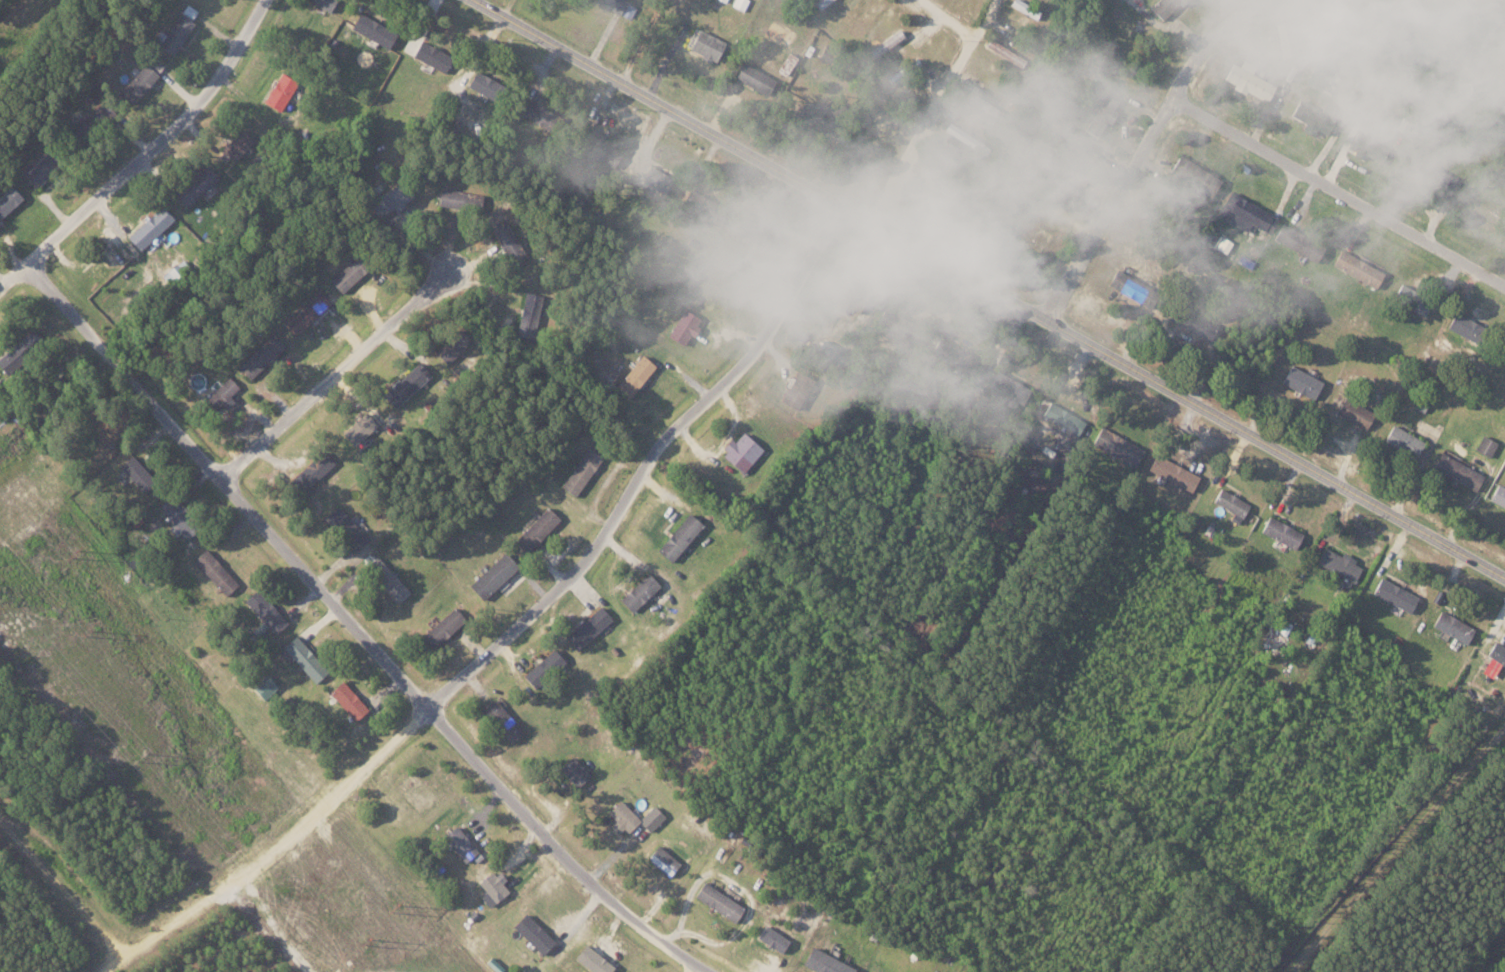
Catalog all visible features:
building: (723, 0)
building: (820, 2)
building: (322, 4)
building: (740, 4)
building: (615, 6)
building: (1166, 7)
building: (1026, 9)
road: (1495, 10)
building: (1433, 11)
road: (953, 17)
building: (1350, 19)
building: (372, 30)
building: (1401, 31)
building: (777, 34)
building: (172, 35)
building: (1286, 40)
building: (883, 45)
building: (705, 46)
building: (1005, 53)
building: (431, 56)
building: (787, 63)
building: (155, 64)
building: (1477, 67)
building: (1316, 77)
building: (754, 78)
building: (1251, 83)
building: (137, 84)
building: (483, 85)
building: (278, 93)
building: (1353, 97)
building: (1437, 97)
building: (1351, 109)
building: (811, 112)
road: (935, 112)
building: (535, 113)
building: (1102, 115)
building: (1314, 117)
building: (1383, 117)
building: (1404, 125)
road: (158, 140)
building: (235, 143)
road: (1144, 148)
building: (1370, 148)
building: (597, 149)
building: (39, 168)
building: (1075, 170)
building: (1434, 175)
building: (1196, 176)
building: (932, 178)
building: (656, 180)
building: (193, 185)
road: (1340, 191)
building: (7, 196)
building: (390, 198)
building: (458, 198)
building: (697, 204)
building: (1249, 211)
building: (1489, 216)
building: (148, 226)
building: (756, 233)
building: (506, 241)
building: (1300, 243)
building: (1361, 269)
building: (348, 273)
road: (15, 277)
road: (988, 288)
building: (1134, 288)
building: (842, 292)
building: (1414, 299)
building: (528, 311)
building: (305, 312)
building: (1193, 323)
building: (683, 326)
building: (900, 326)
building: (1469, 328)
building: (451, 346)
building: (12, 355)
building: (260, 355)
building: (954, 357)
road: (336, 376)
building: (633, 376)
building: (1304, 382)
building: (405, 384)
building: (796, 389)
building: (1009, 390)
building: (222, 392)
building: (1422, 407)
building: (1357, 413)
building: (1064, 418)
building: (358, 428)
building: (1405, 442)
building: (1118, 447)
building: (1487, 447)
building: (740, 450)
road: (648, 466)
building: (580, 470)
building: (310, 471)
building: (135, 472)
building: (1459, 472)
building: (1174, 474)
building: (1504, 474)
road: (229, 486)
building: (1499, 497)
building: (1231, 503)
building: (178, 518)
building: (344, 528)
building: (536, 529)
building: (1281, 531)
building: (678, 537)
power tower: (75, 553)
building: (1338, 564)
building: (213, 571)
building: (492, 575)
building: (386, 578)
building: (638, 591)
building: (1395, 595)
building: (264, 611)
building: (443, 626)
building: (587, 627)
building: (1453, 628)
power tower: (86, 631)
building: (1399, 639)
building: (1274, 640)
building: (1497, 653)
building: (303, 658)
building: (542, 666)
building: (264, 686)
building: (348, 701)
building: (502, 721)
power tower: (140, 759)
building: (574, 772)
building: (661, 809)
building: (624, 815)
building: (651, 818)
building: (461, 843)
road: (1393, 846)
road: (274, 850)
road: (562, 851)
building: (664, 861)
road: (62, 886)
building: (494, 886)
building: (718, 901)
power tower: (395, 907)
building: (534, 933)
building: (771, 938)
power tower: (366, 940)
building: (592, 960)
building: (824, 962)

